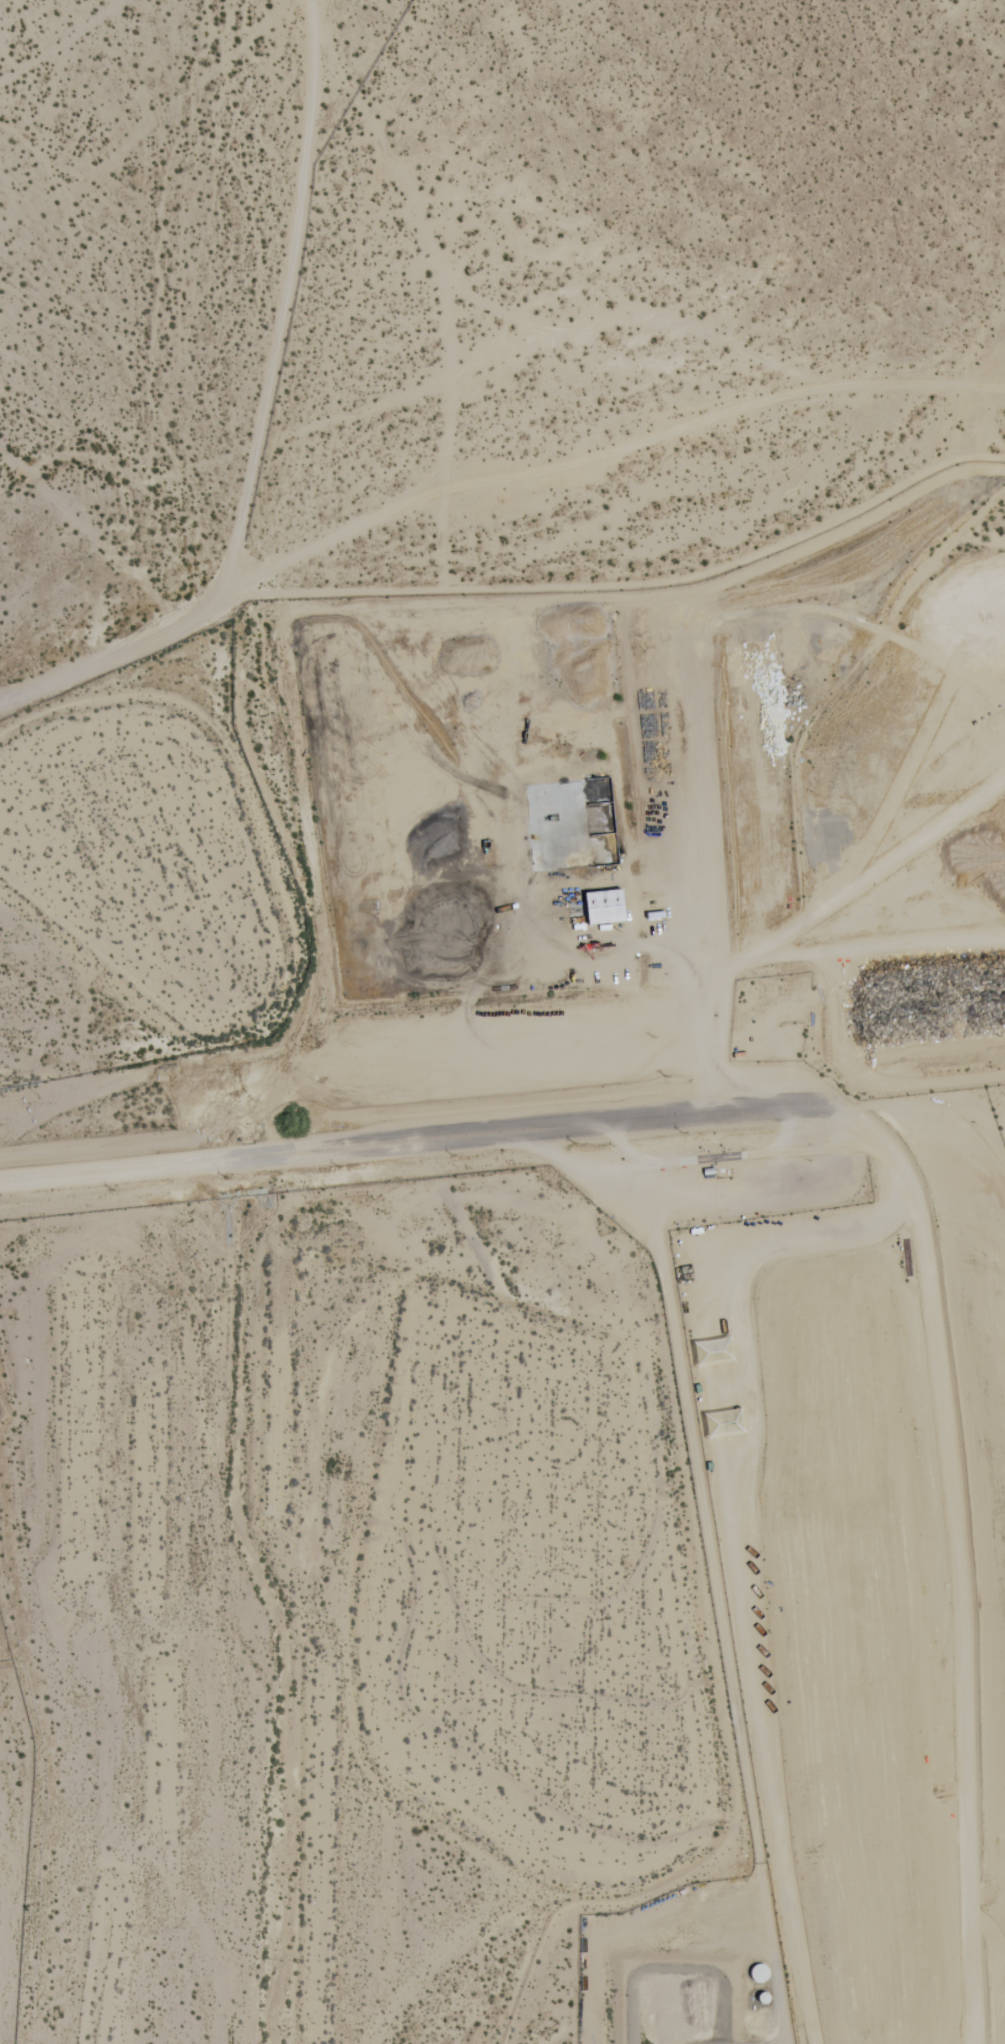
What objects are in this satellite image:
building: (602, 907)
road: (421, 1140)
building: (717, 1351)
building: (728, 1423)
building: (762, 1973)

